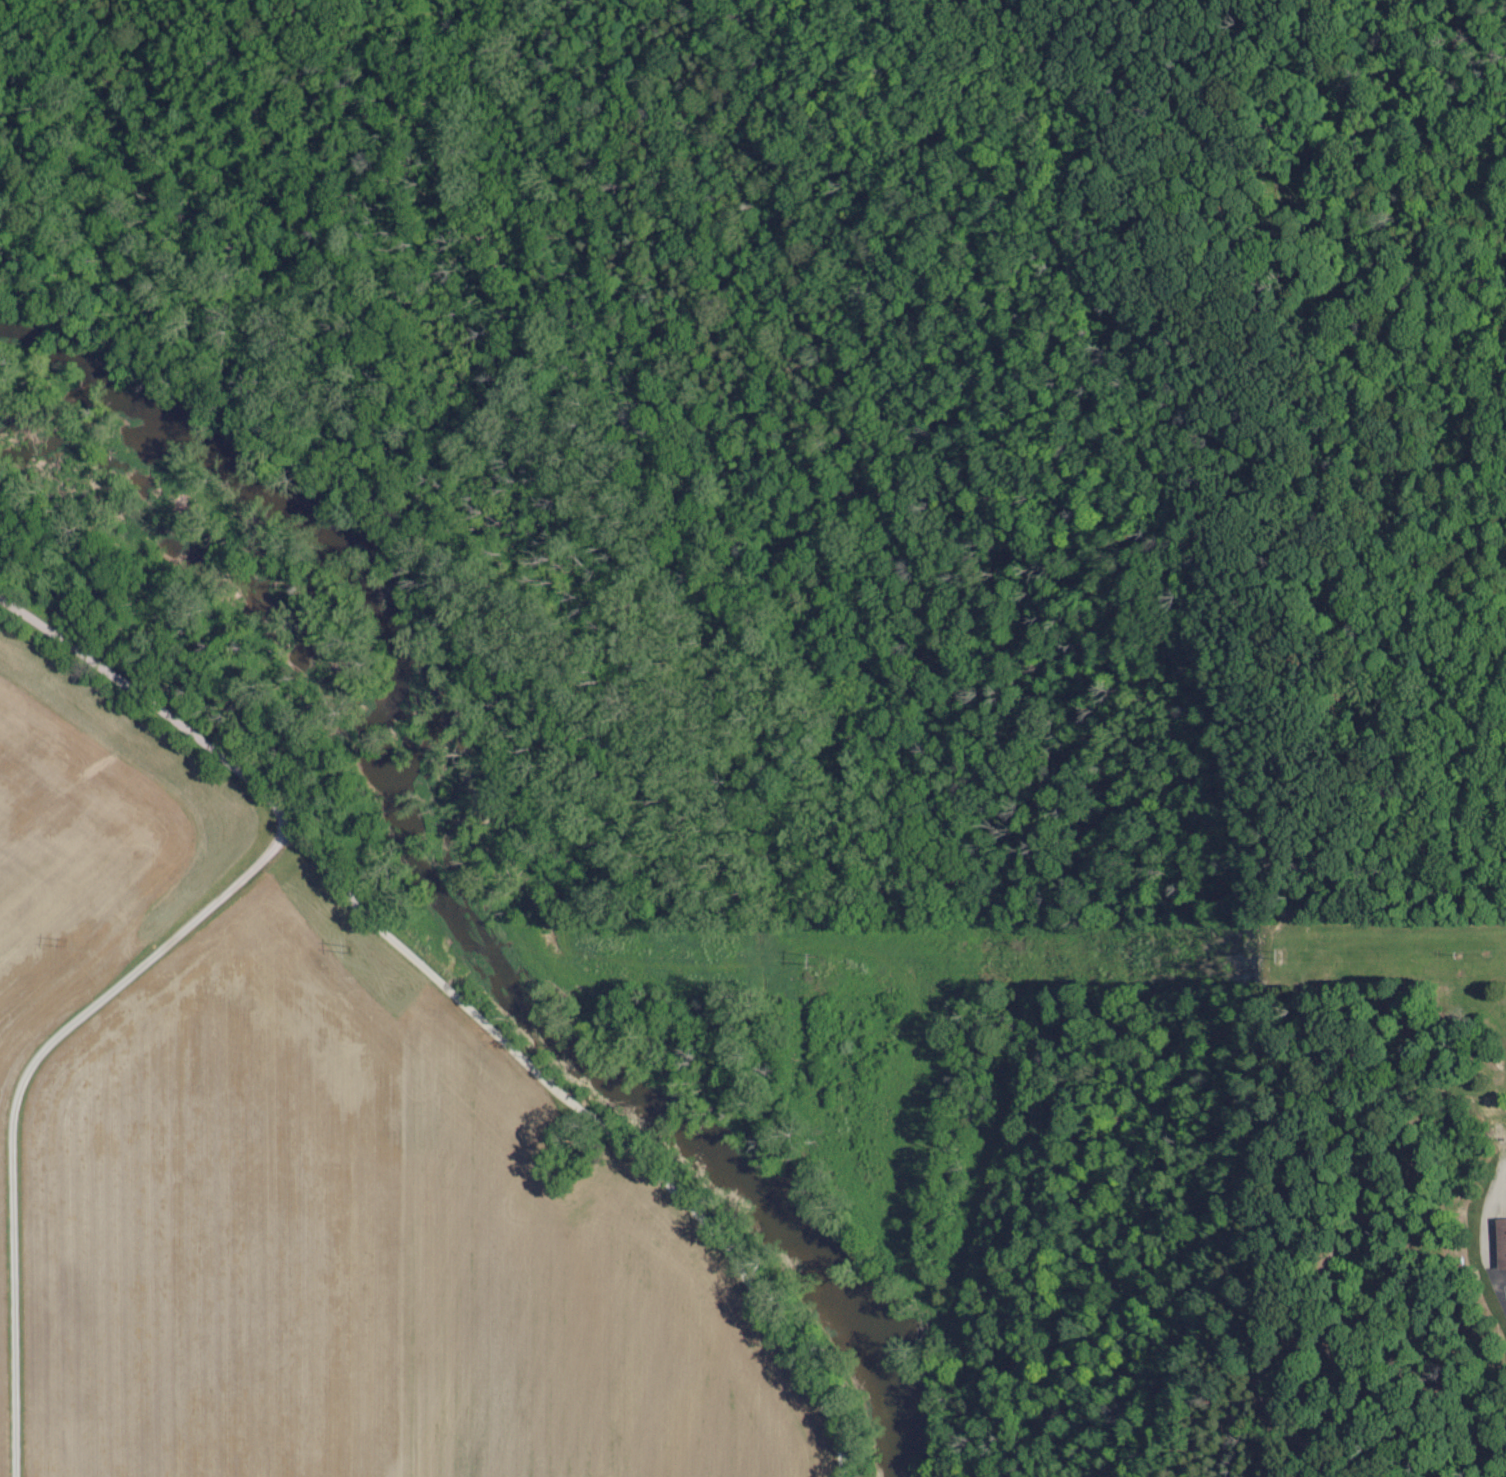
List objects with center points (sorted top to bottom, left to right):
road: (149, 696)
road: (14, 1089)
road: (597, 1125)

